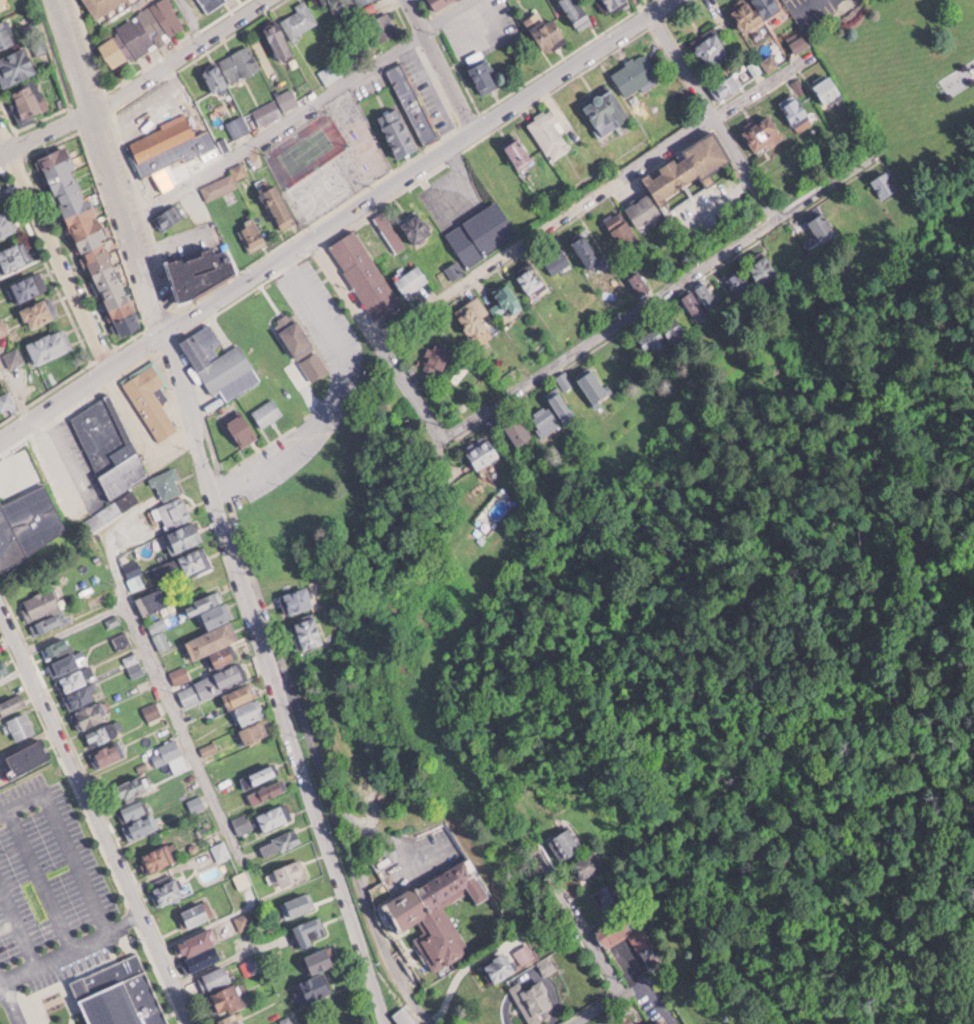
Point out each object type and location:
building: (325, 0)
building: (440, 2)
building: (212, 4)
building: (345, 4)
building: (611, 4)
building: (102, 5)
building: (1, 7)
building: (756, 11)
building: (578, 12)
road: (194, 21)
building: (383, 26)
building: (291, 28)
building: (547, 29)
building: (141, 32)
building: (7, 33)
building: (713, 48)
building: (769, 62)
building: (17, 65)
road: (441, 65)
building: (340, 66)
building: (232, 67)
building: (484, 71)
building: (637, 74)
road: (135, 82)
building: (726, 86)
building: (828, 87)
building: (288, 97)
building: (30, 100)
building: (413, 102)
building: (797, 108)
building: (607, 109)
building: (268, 111)
road: (300, 111)
road: (720, 111)
building: (239, 125)
building: (762, 130)
building: (399, 131)
building: (550, 134)
building: (167, 150)
building: (518, 150)
park: (308, 151)
road: (111, 164)
building: (689, 166)
building: (503, 173)
building: (225, 181)
park: (328, 183)
building: (884, 183)
building: (2, 192)
road: (591, 198)
building: (281, 204)
building: (644, 209)
building: (841, 211)
building: (168, 216)
road: (336, 221)
building: (7, 222)
building: (821, 224)
building: (418, 226)
building: (621, 226)
building: (390, 229)
building: (482, 231)
building: (252, 233)
building: (92, 241)
building: (587, 249)
road: (51, 251)
building: (790, 254)
building: (14, 255)
building: (556, 258)
building: (764, 270)
building: (203, 271)
building: (364, 272)
building: (530, 276)
building: (412, 279)
building: (639, 281)
building: (738, 281)
building: (29, 286)
road: (661, 291)
building: (699, 299)
building: (506, 301)
building: (39, 312)
building: (474, 316)
road: (383, 331)
building: (663, 336)
building: (299, 339)
building: (51, 345)
building: (14, 356)
building: (217, 359)
building: (0, 376)
road: (16, 383)
building: (593, 384)
road: (336, 393)
building: (7, 401)
building: (151, 401)
building: (562, 407)
building: (268, 412)
building: (545, 419)
building: (243, 429)
building: (519, 430)
building: (110, 445)
building: (483, 452)
building: (168, 484)
building: (38, 511)
building: (173, 512)
building: (184, 537)
building: (185, 563)
building: (134, 573)
building: (298, 599)
building: (154, 600)
building: (210, 609)
building: (44, 610)
road: (74, 625)
building: (308, 632)
building: (162, 639)
building: (216, 644)
building: (57, 647)
building: (65, 664)
building: (3, 667)
building: (180, 673)
building: (230, 674)
road: (276, 676)
building: (74, 681)
road: (165, 687)
building: (191, 693)
building: (83, 696)
building: (243, 704)
building: (11, 705)
building: (153, 710)
building: (90, 716)
building: (22, 725)
building: (104, 733)
building: (253, 733)
building: (109, 754)
building: (170, 755)
building: (28, 758)
building: (260, 776)
building: (134, 786)
building: (268, 791)
building: (196, 802)
road: (21, 803)
road: (97, 810)
building: (134, 810)
building: (273, 817)
building: (243, 822)
building: (142, 826)
building: (281, 842)
building: (567, 843)
building: (221, 850)
building: (156, 859)
road: (77, 860)
building: (587, 866)
building: (290, 873)
road: (40, 877)
parking lot: (44, 890)
building: (170, 891)
building: (610, 894)
road: (366, 903)
building: (300, 904)
building: (440, 911)
building: (195, 914)
road: (17, 925)
building: (310, 932)
road: (595, 941)
building: (643, 941)
road: (72, 945)
building: (200, 949)
building: (524, 953)
building: (321, 960)
building: (255, 962)
building: (500, 967)
building: (216, 977)
building: (317, 988)
building: (121, 993)
building: (534, 1000)
road: (10, 1001)
building: (229, 1004)
building: (404, 1016)
building: (662, 1021)
building: (349, 1023)

